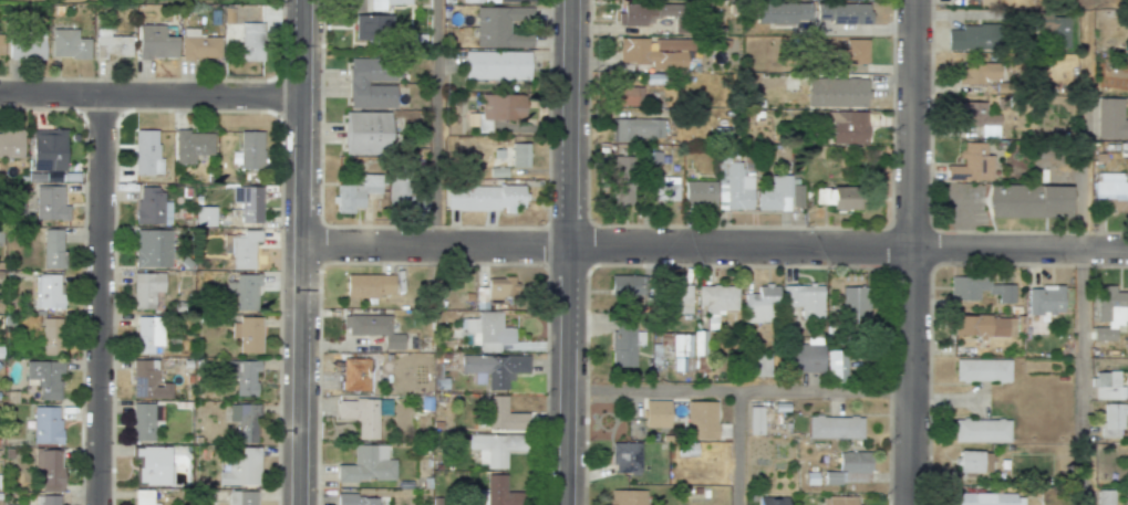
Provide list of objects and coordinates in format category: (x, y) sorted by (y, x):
building: (480, 1)
building: (985, 2)
building: (385, 3)
building: (670, 12)
building: (783, 12)
building: (841, 12)
building: (635, 14)
road: (960, 15)
building: (370, 27)
building: (500, 27)
road: (859, 29)
building: (1054, 29)
building: (974, 36)
building: (251, 41)
building: (155, 42)
building: (0, 43)
building: (25, 44)
building: (68, 44)
building: (111, 44)
building: (673, 44)
building: (199, 45)
building: (851, 52)
building: (650, 55)
building: (496, 65)
building: (979, 73)
building: (372, 83)
building: (836, 92)
building: (628, 95)
road: (151, 96)
building: (497, 111)
building: (980, 118)
building: (1110, 119)
road: (435, 123)
road: (1082, 124)
building: (847, 126)
building: (637, 128)
building: (366, 133)
building: (11, 144)
building: (192, 146)
building: (48, 149)
building: (248, 150)
building: (146, 152)
building: (520, 155)
building: (971, 164)
building: (621, 180)
building: (733, 185)
building: (664, 189)
building: (1110, 191)
building: (700, 192)
building: (355, 193)
building: (404, 194)
building: (778, 194)
building: (485, 198)
building: (844, 198)
building: (1028, 201)
building: (50, 203)
building: (246, 203)
building: (152, 207)
building: (205, 215)
road: (959, 218)
road: (714, 246)
building: (152, 248)
building: (241, 248)
building: (52, 249)
road: (300, 252)
road: (567, 252)
road: (912, 252)
building: (369, 285)
building: (627, 286)
building: (146, 288)
building: (499, 288)
building: (979, 288)
building: (48, 291)
building: (244, 291)
building: (676, 298)
building: (804, 298)
road: (97, 299)
building: (1044, 299)
building: (716, 301)
building: (855, 303)
building: (760, 304)
building: (1109, 312)
building: (984, 326)
building: (373, 328)
building: (488, 330)
building: (147, 334)
building: (247, 334)
building: (52, 336)
building: (622, 341)
building: (698, 343)
building: (803, 358)
building: (757, 364)
building: (836, 366)
building: (493, 368)
building: (982, 369)
building: (354, 374)
building: (242, 376)
building: (44, 377)
road: (1079, 377)
building: (147, 380)
building: (1108, 386)
road: (738, 390)
building: (656, 413)
building: (360, 414)
building: (504, 415)
building: (701, 419)
building: (1113, 419)
building: (755, 420)
building: (244, 421)
building: (142, 422)
building: (45, 424)
building: (835, 427)
building: (980, 430)
building: (495, 448)
road: (738, 448)
building: (625, 457)
building: (973, 461)
building: (152, 464)
building: (368, 464)
building: (240, 466)
building: (49, 469)
building: (849, 469)
building: (497, 492)
building: (142, 497)
building: (241, 497)
building: (627, 497)
building: (1105, 497)
building: (981, 498)
building: (46, 499)
building: (356, 499)
building: (1124, 499)
building: (772, 501)
building: (838, 501)

